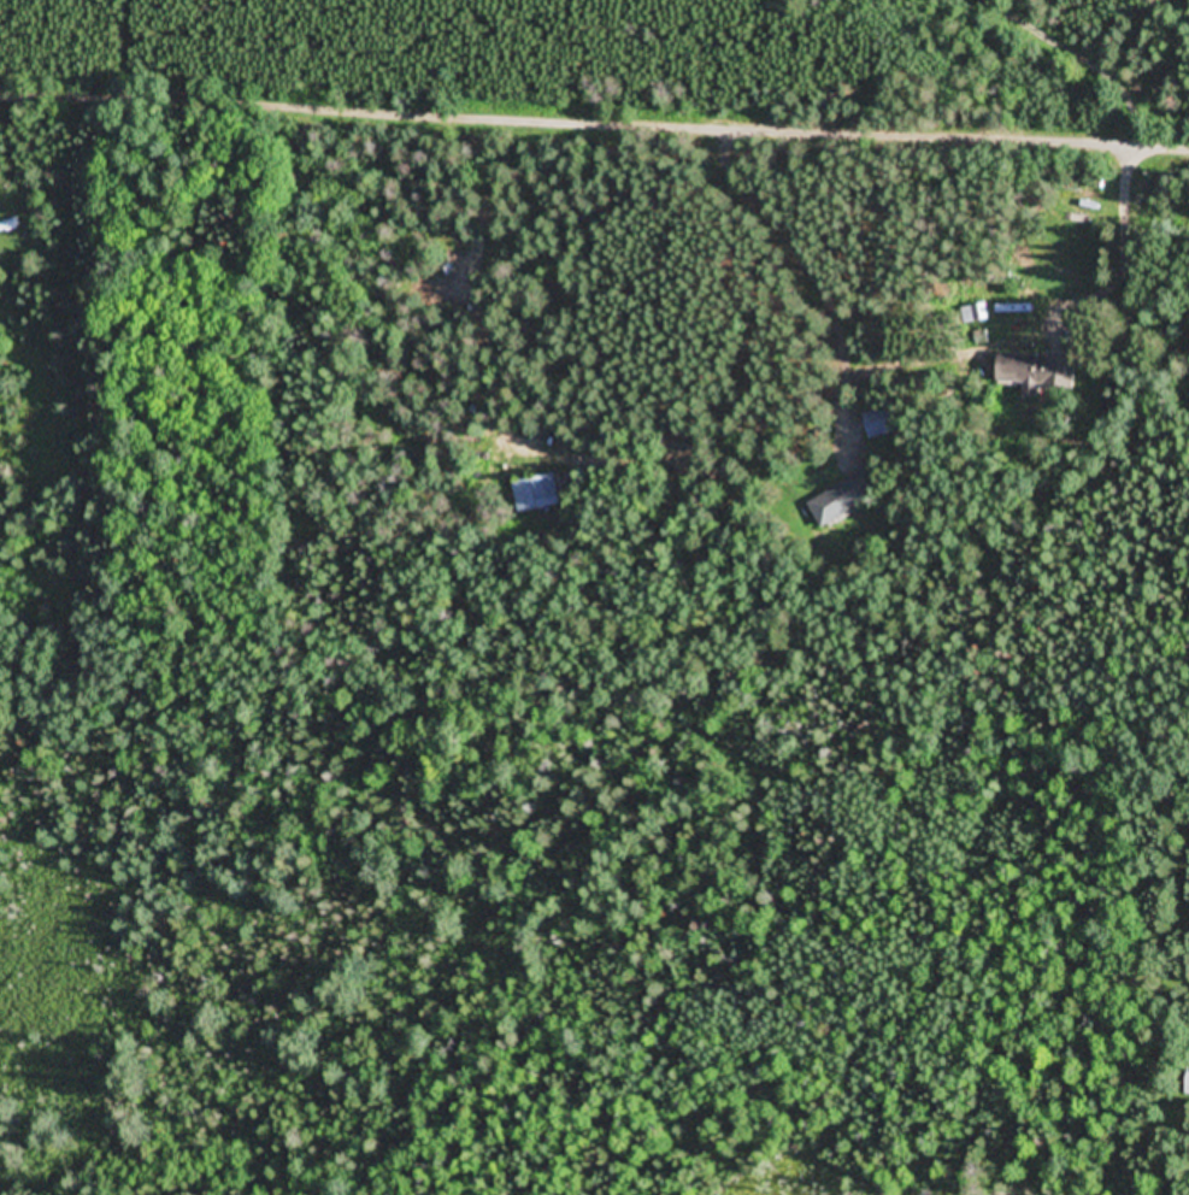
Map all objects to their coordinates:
road: (594, 119)
building: (1041, 373)
building: (881, 423)
building: (536, 494)
building: (848, 500)

